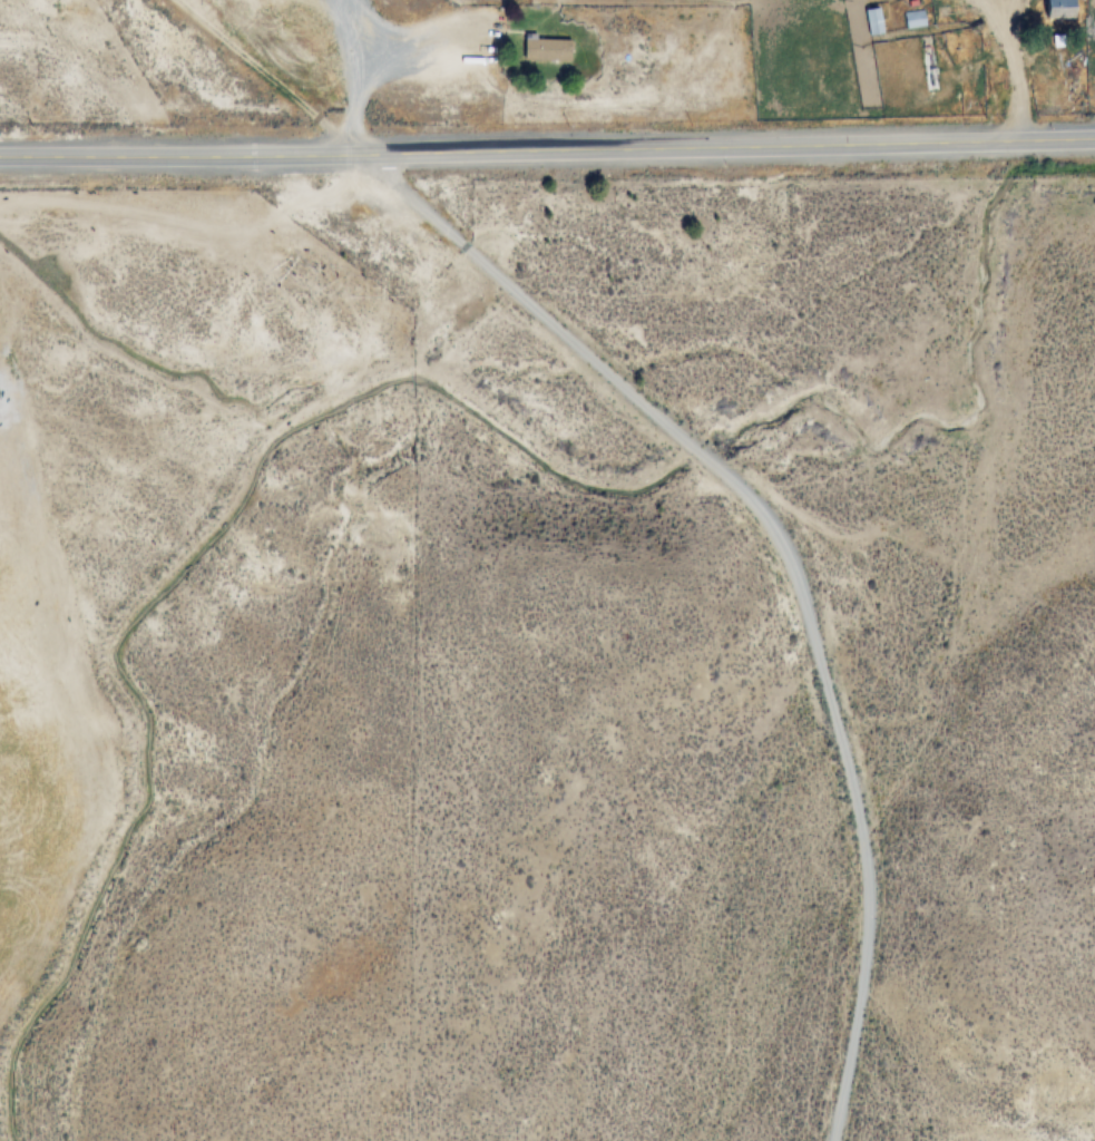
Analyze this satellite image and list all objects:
building: (1062, 9)
building: (915, 20)
building: (874, 22)
building: (551, 49)
road: (267, 75)
road: (737, 145)
road: (189, 154)
road: (790, 566)

